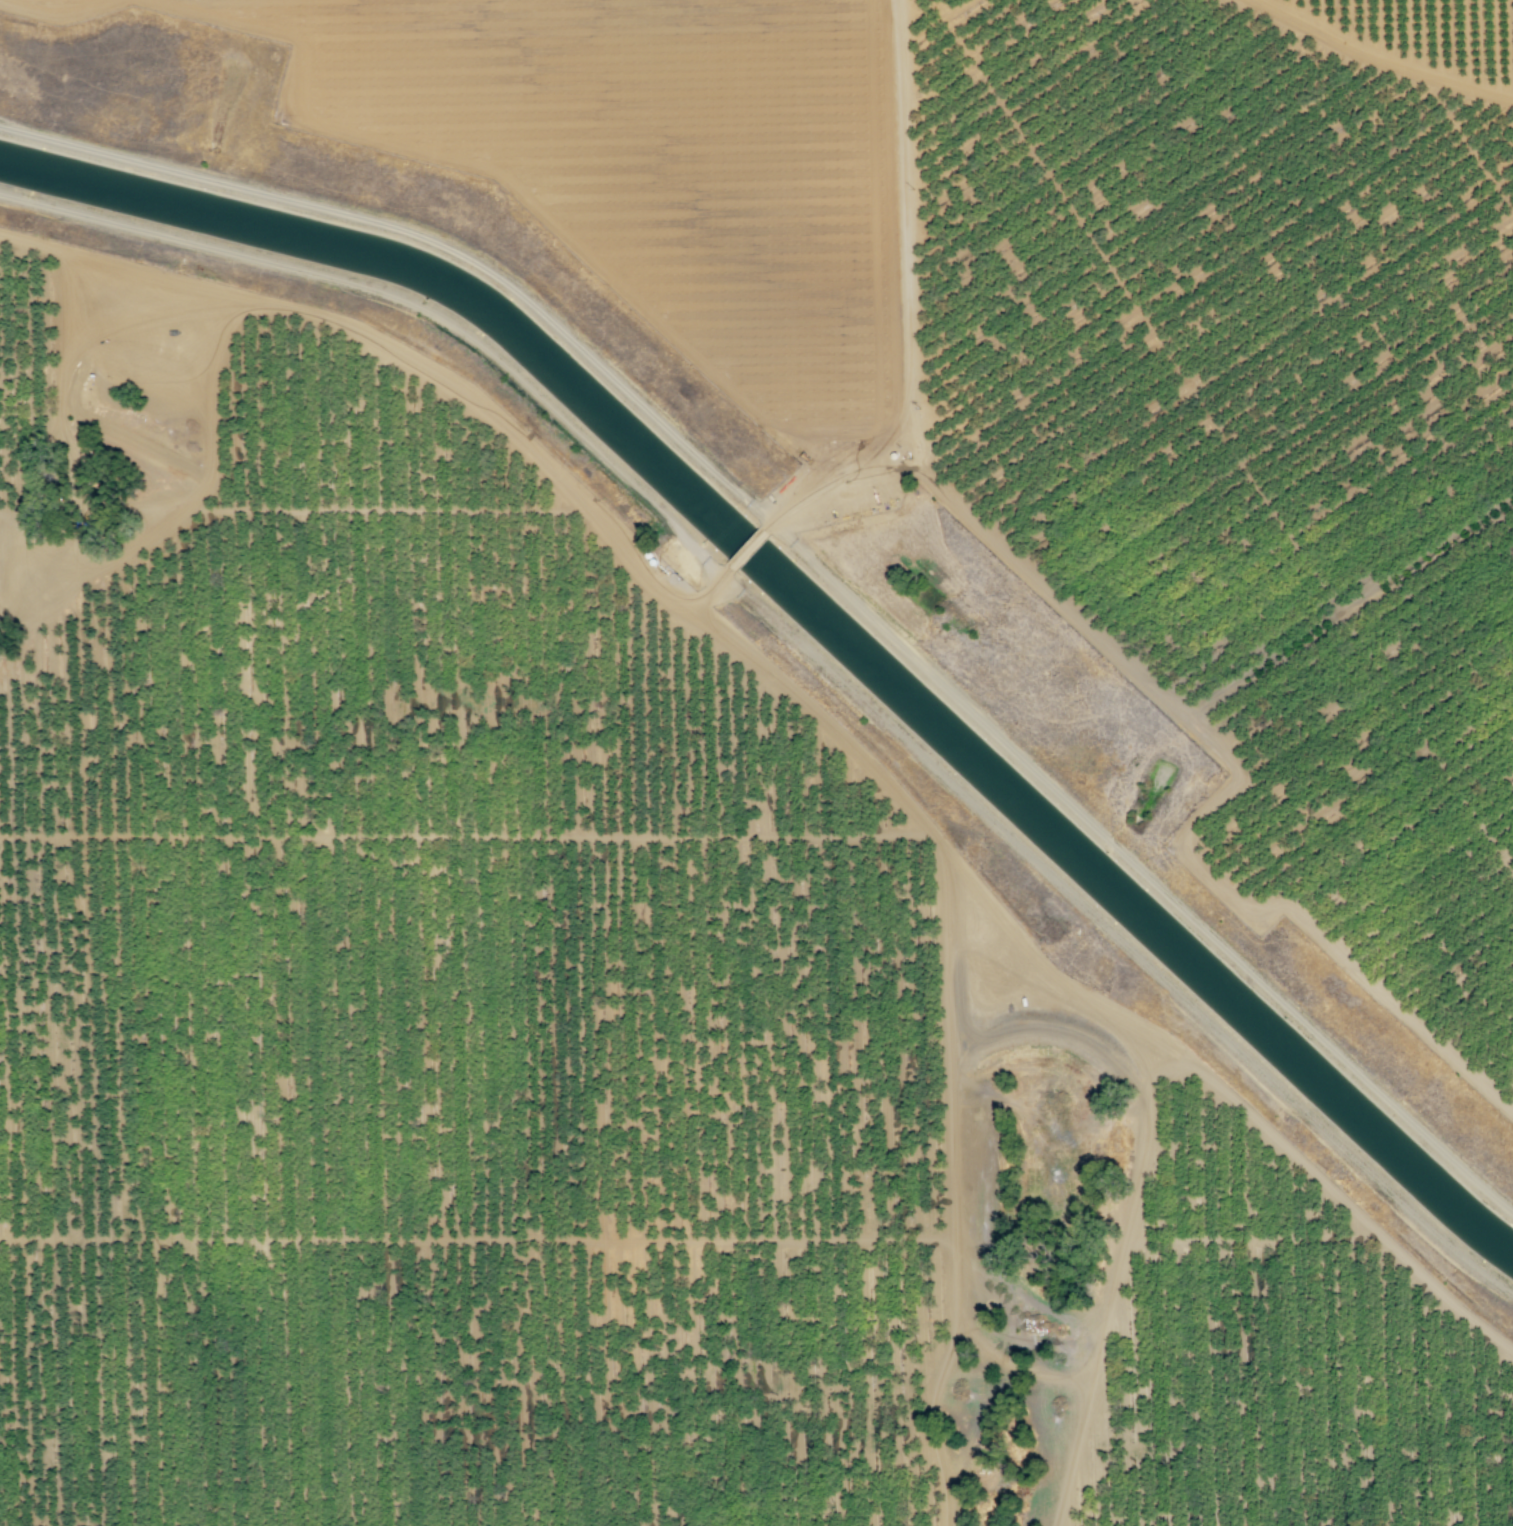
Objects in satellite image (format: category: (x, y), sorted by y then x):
road: (549, 9)
road: (59, 12)
road: (1381, 59)
road: (503, 179)
road: (132, 272)
road: (906, 298)
road: (320, 315)
road: (387, 510)
road: (745, 550)
road: (22, 580)
road: (1233, 784)
road: (466, 837)
road: (1079, 998)
road: (956, 1189)
road: (479, 1239)
road: (1253, 1241)
road: (1115, 1284)
road: (1016, 1365)

